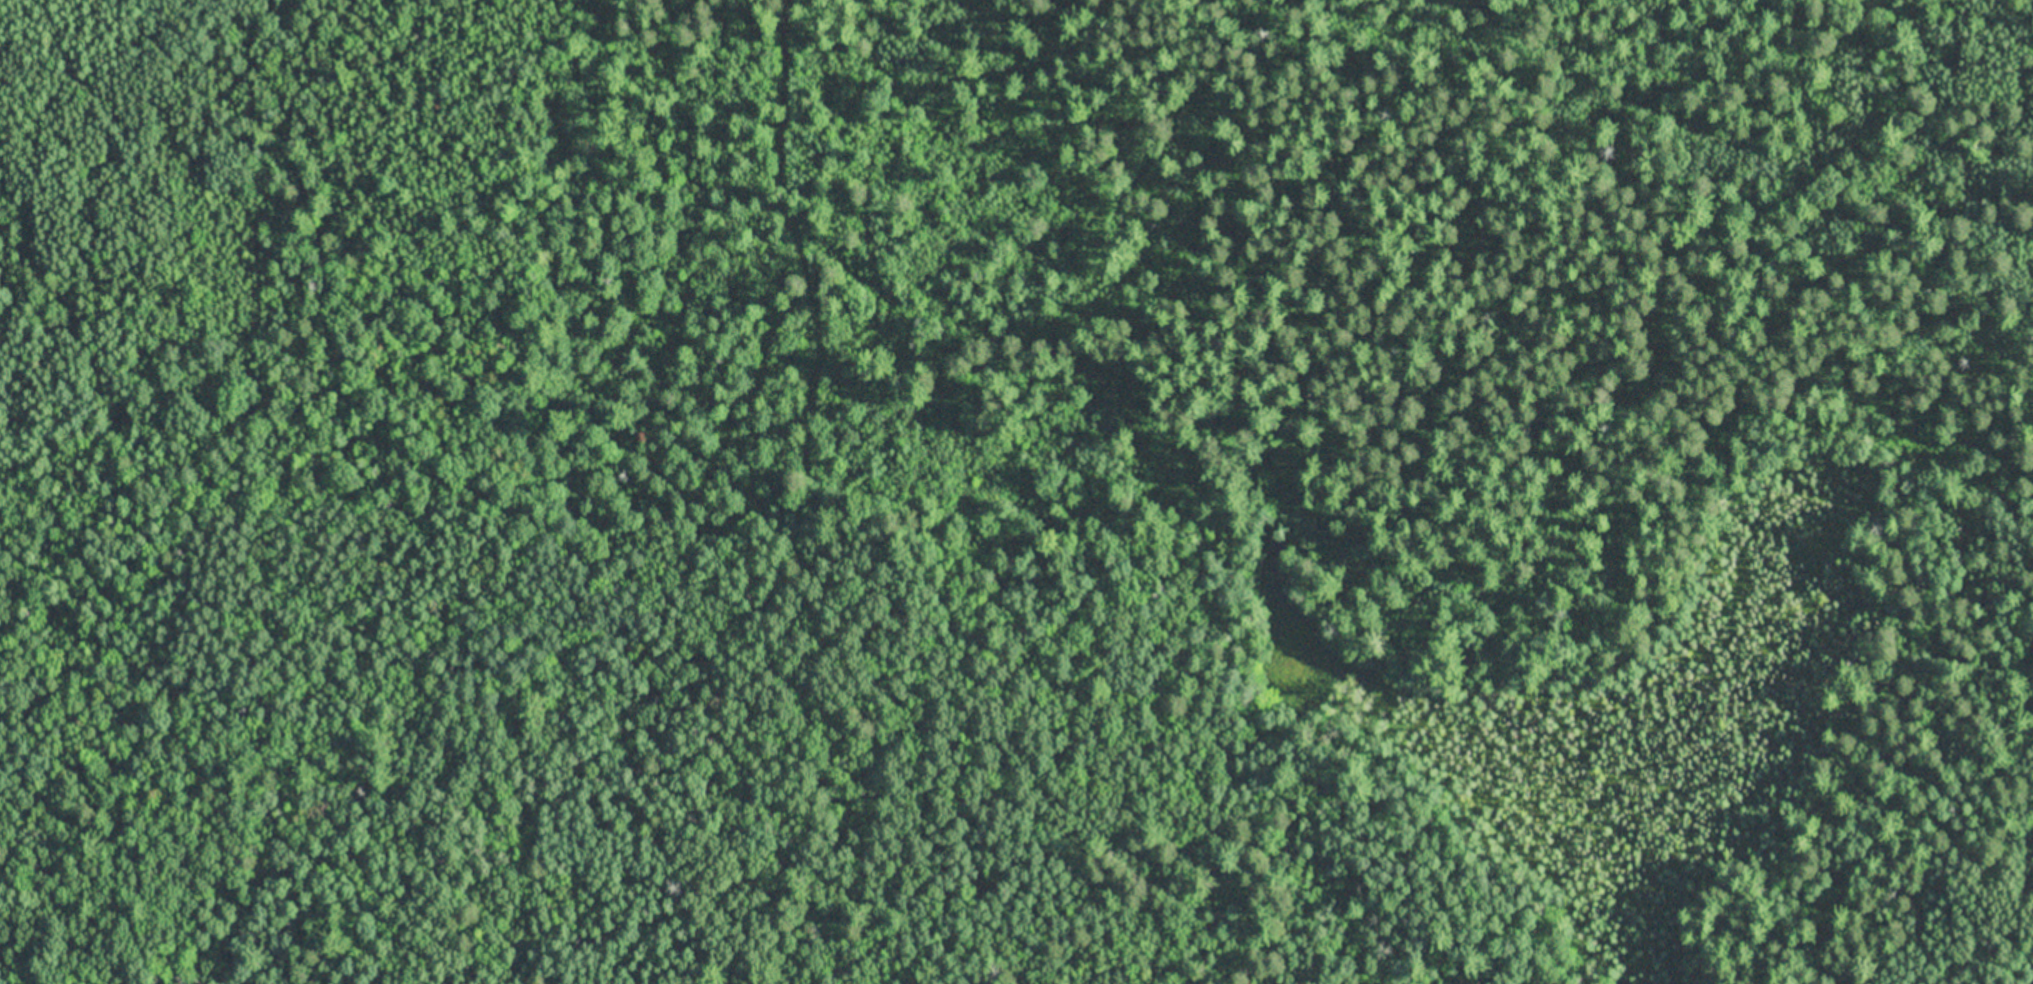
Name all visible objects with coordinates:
road: (2009, 892)

